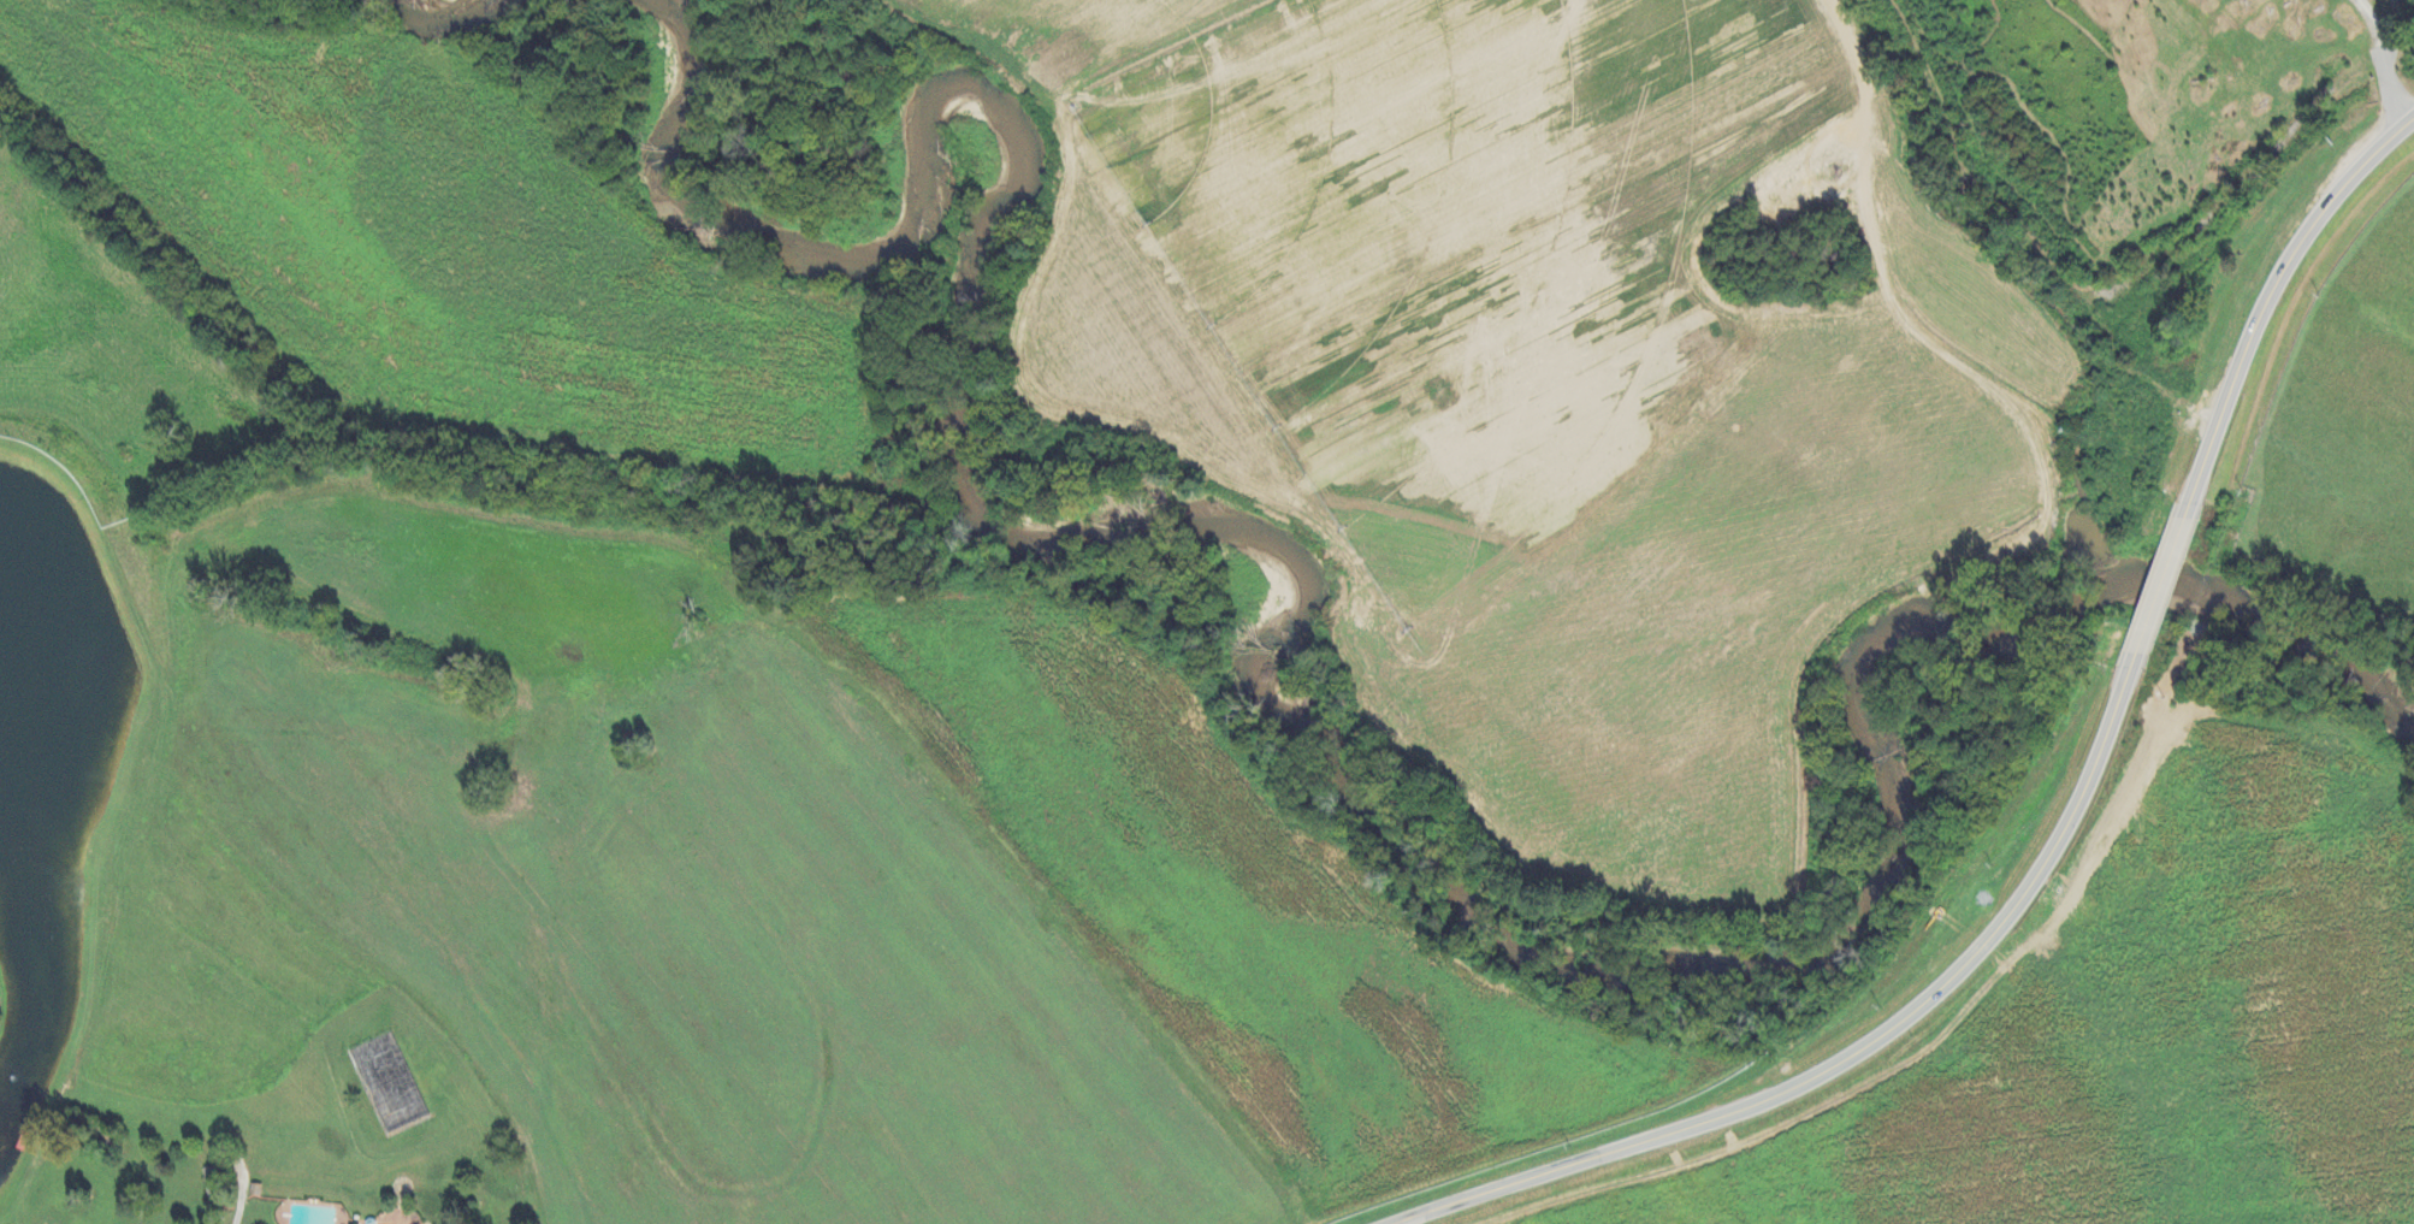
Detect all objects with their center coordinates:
road: (2395, 31)
road: (2386, 59)
road: (2272, 301)
road: (2161, 586)
river: (1277, 700)
road: (1856, 1052)
building: (217, 1184)
road: (242, 1200)

